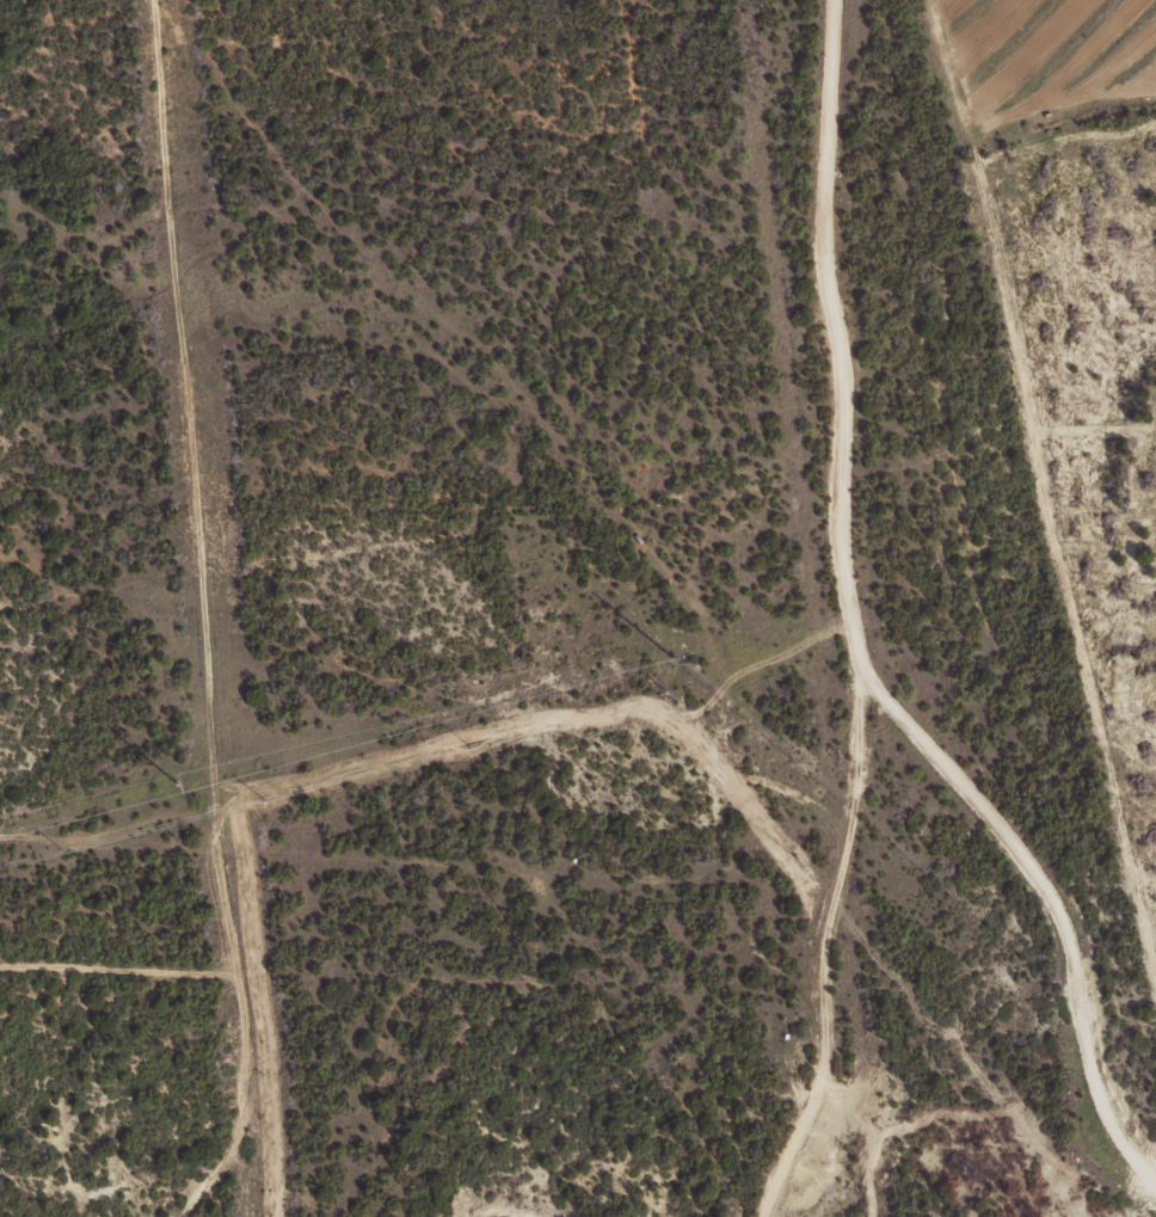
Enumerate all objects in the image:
road: (546, 471)
road: (746, 477)
road: (862, 615)
power tower: (666, 656)
power tower: (173, 783)

